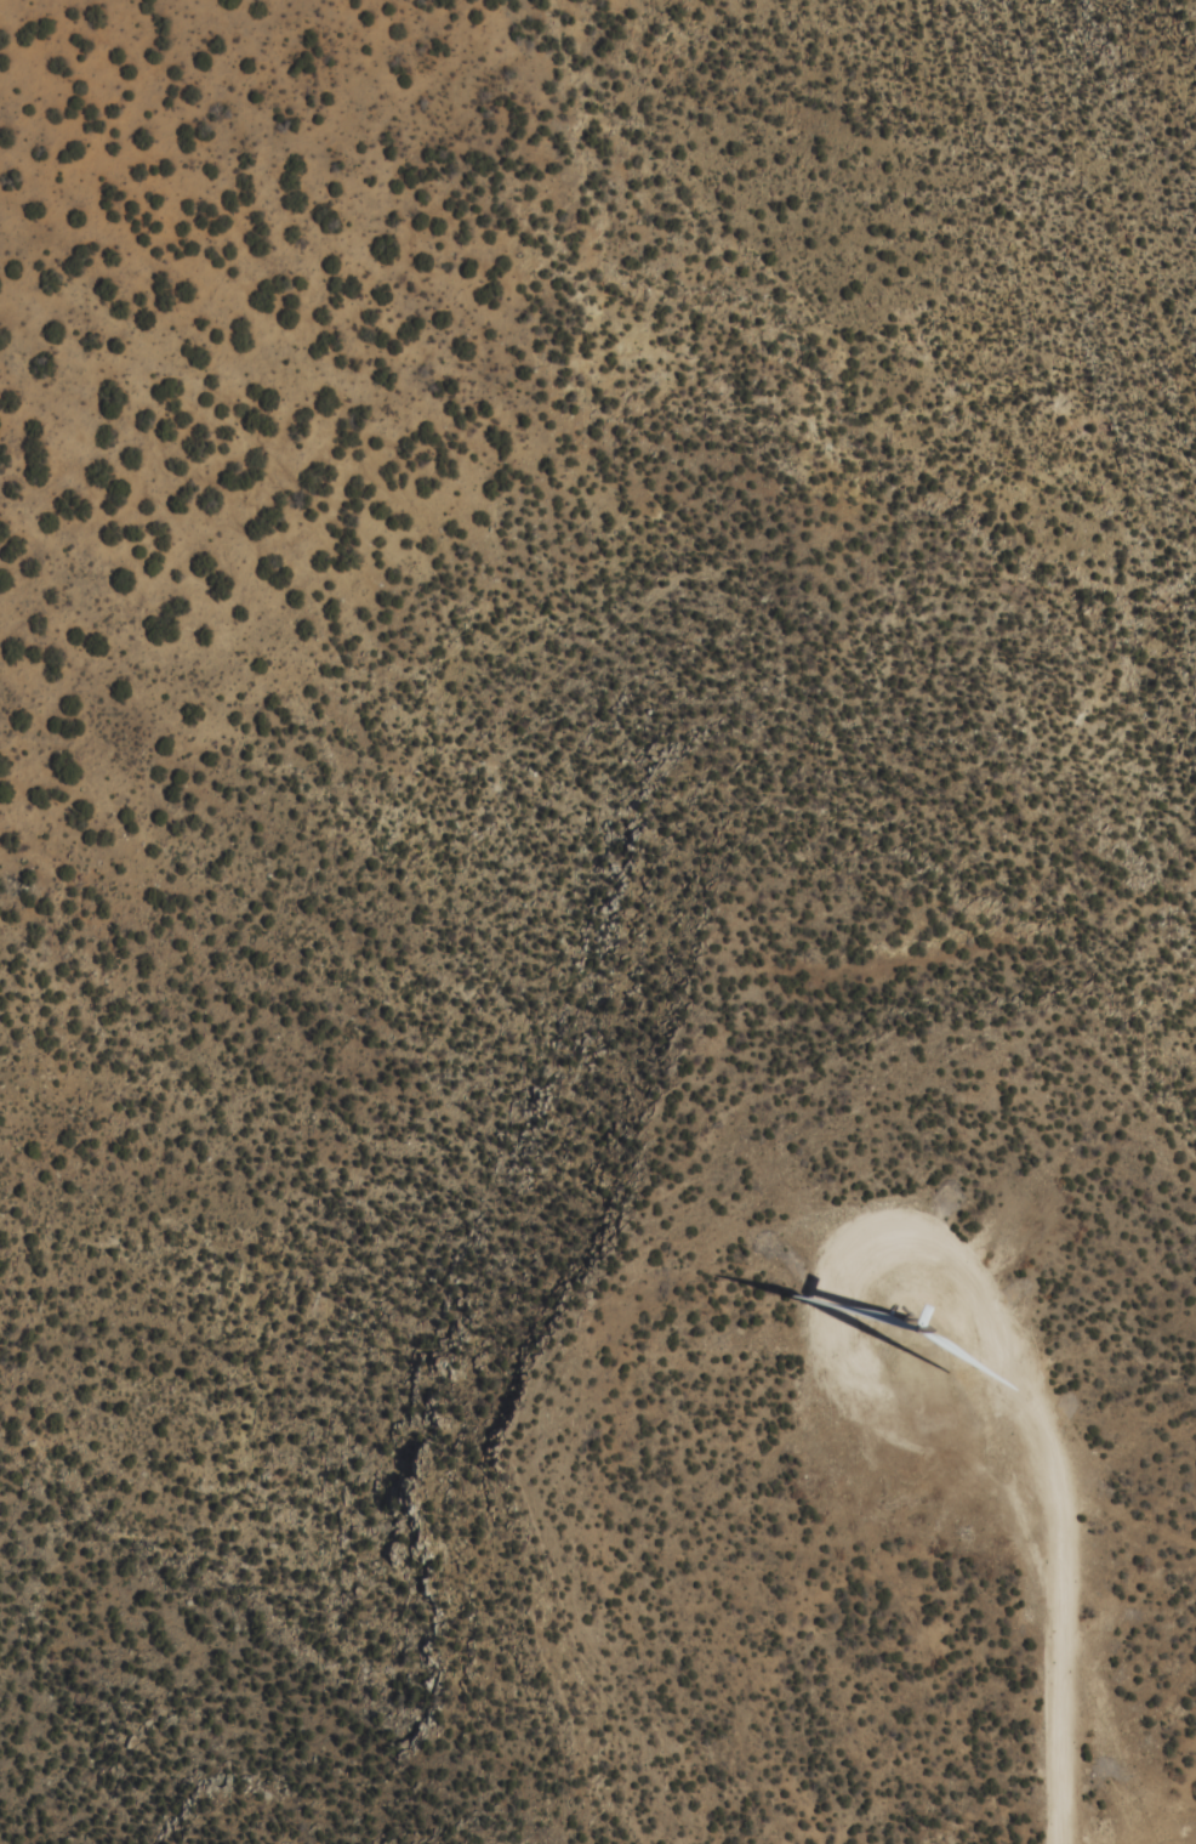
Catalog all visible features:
wind turbine: (906, 1326)

